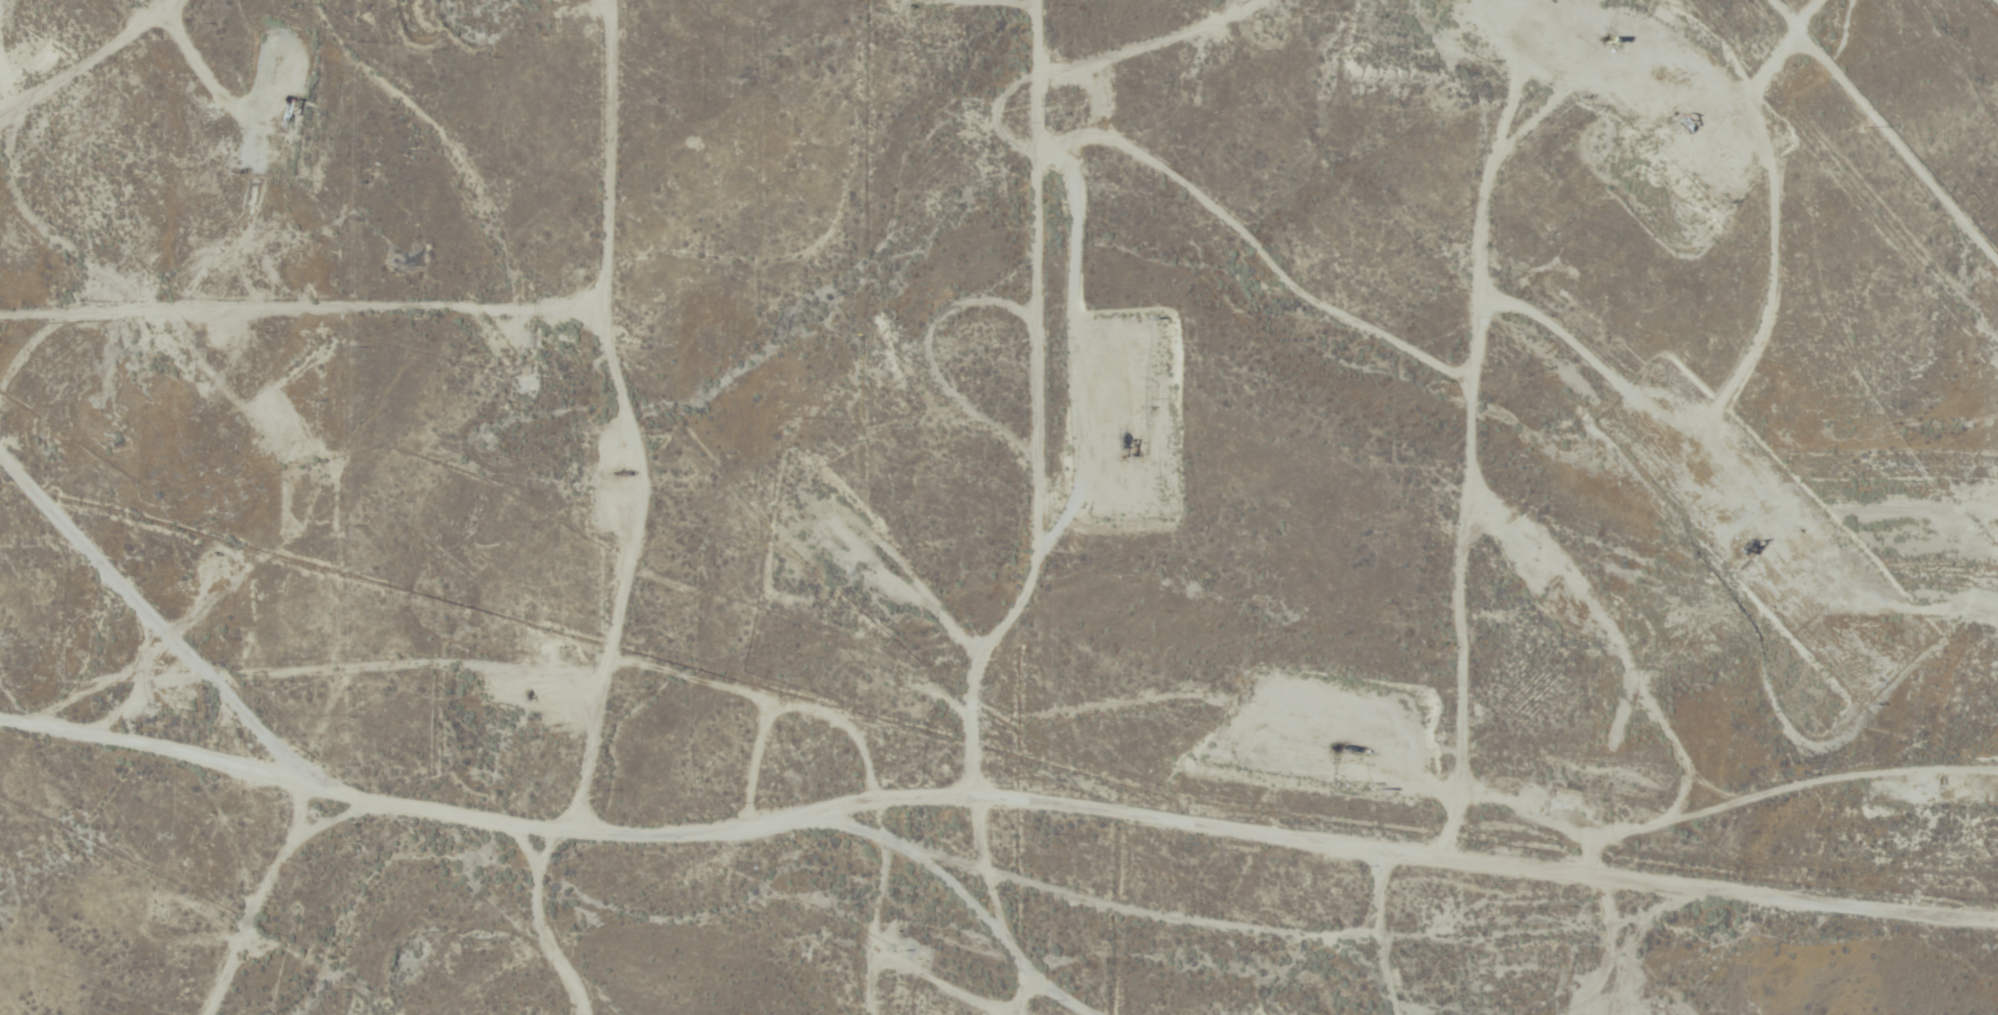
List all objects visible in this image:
road: (141, 631)
road: (994, 793)
road: (957, 883)
road: (543, 923)

